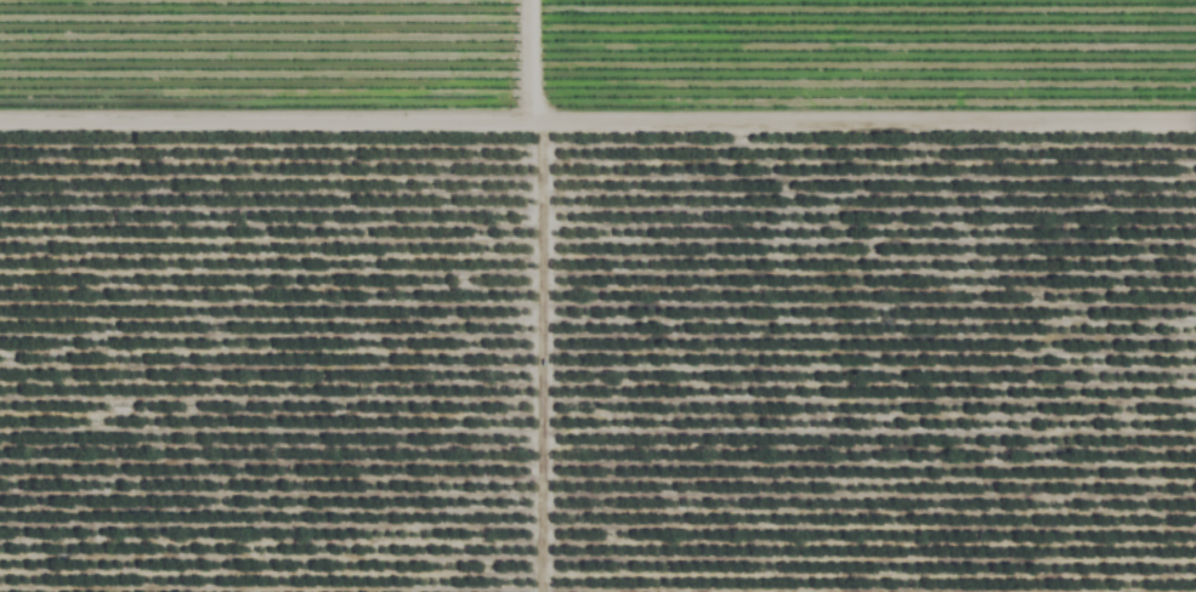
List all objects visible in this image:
road: (520, 63)
road: (631, 125)

